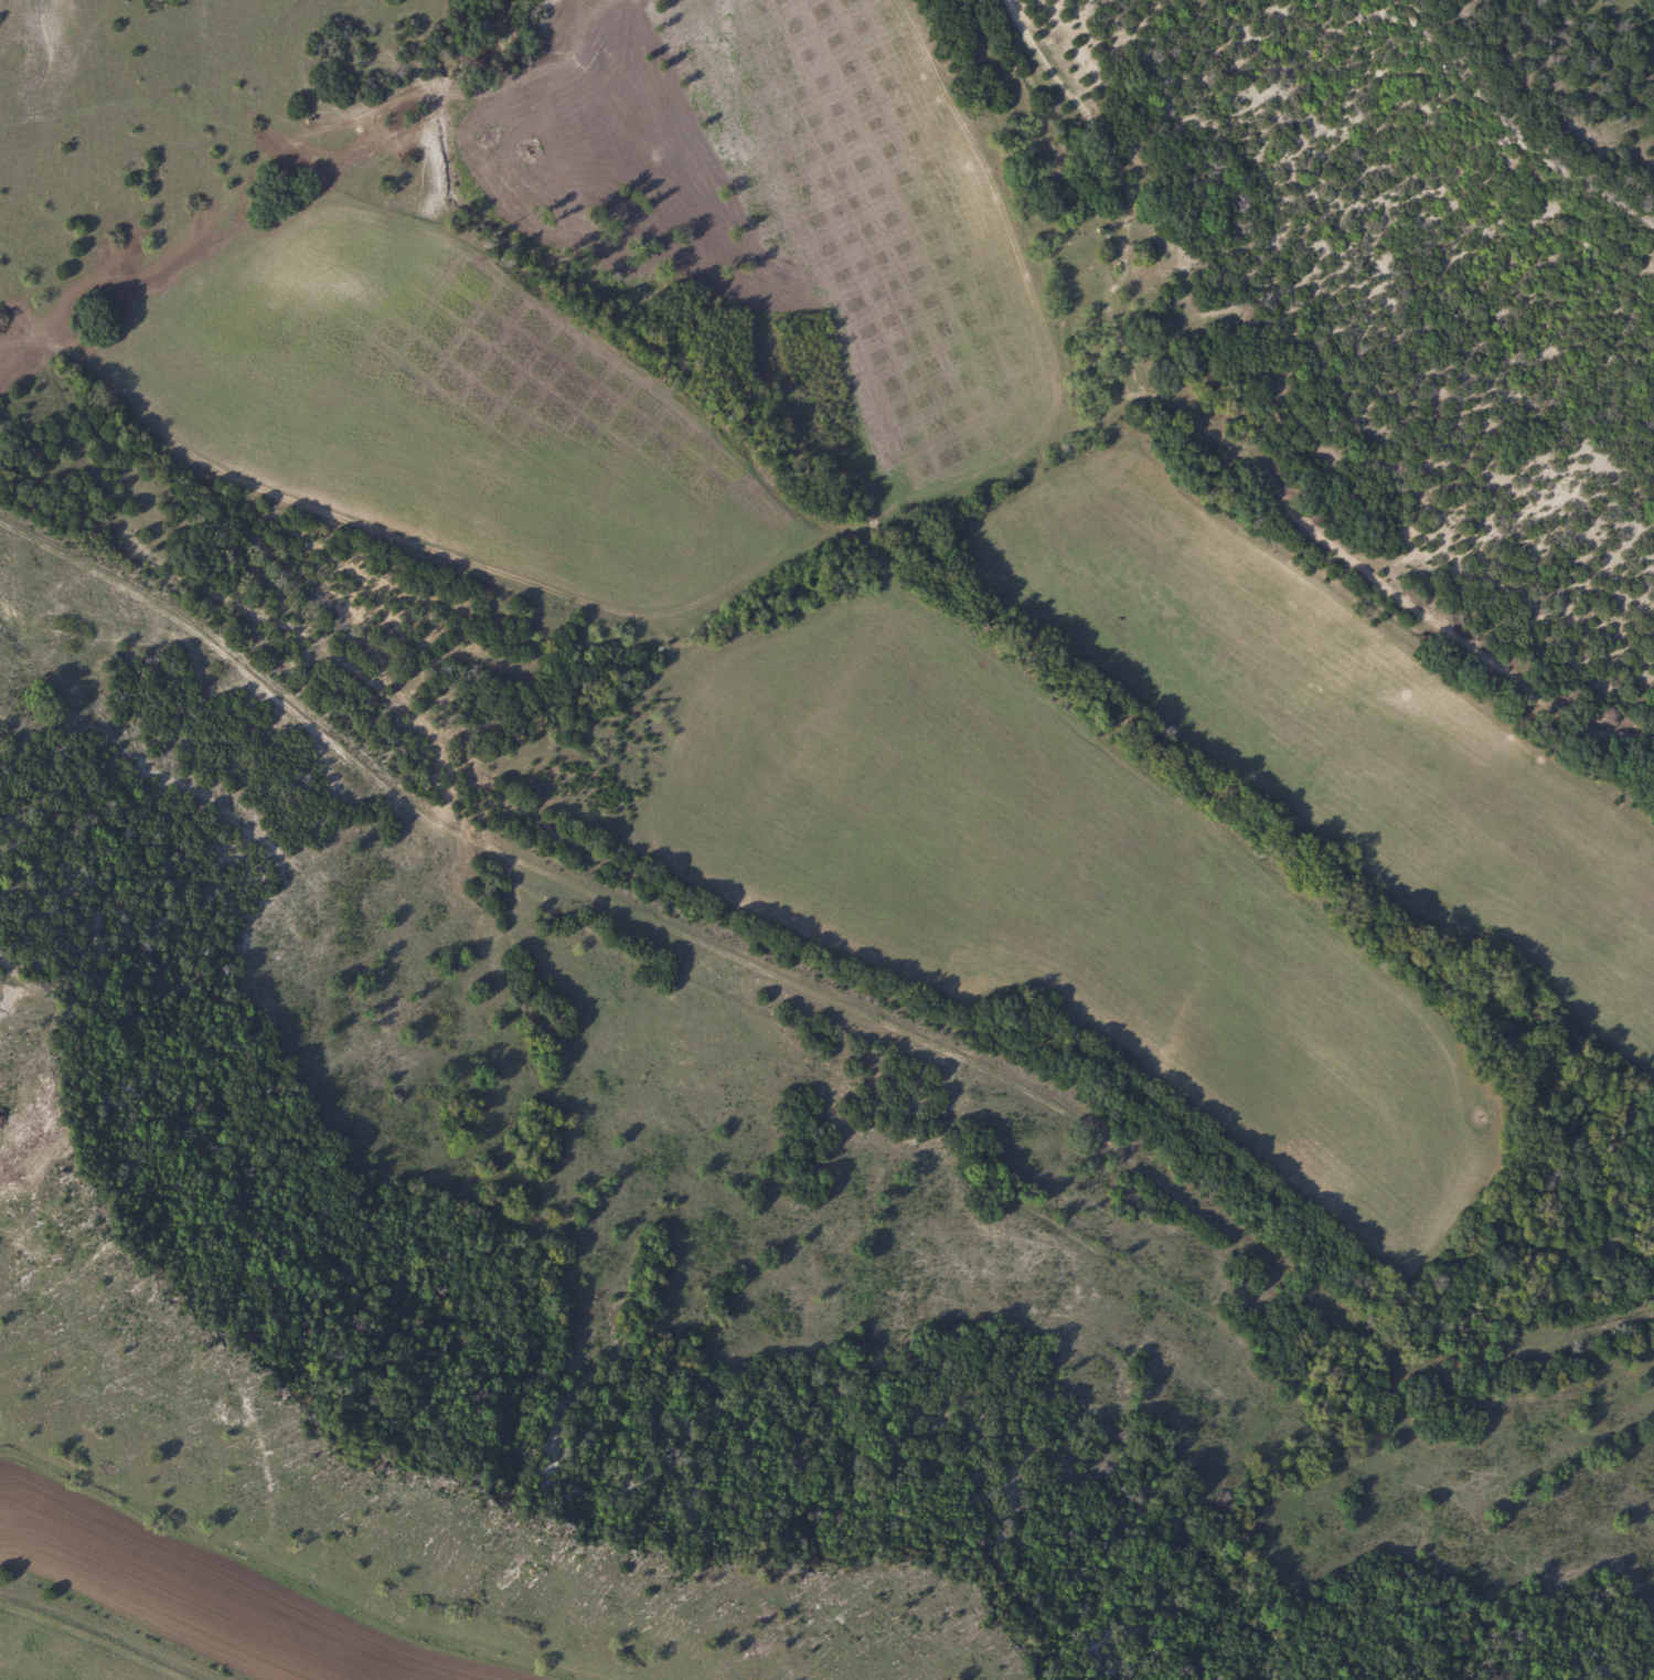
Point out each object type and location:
road: (1135, 233)

